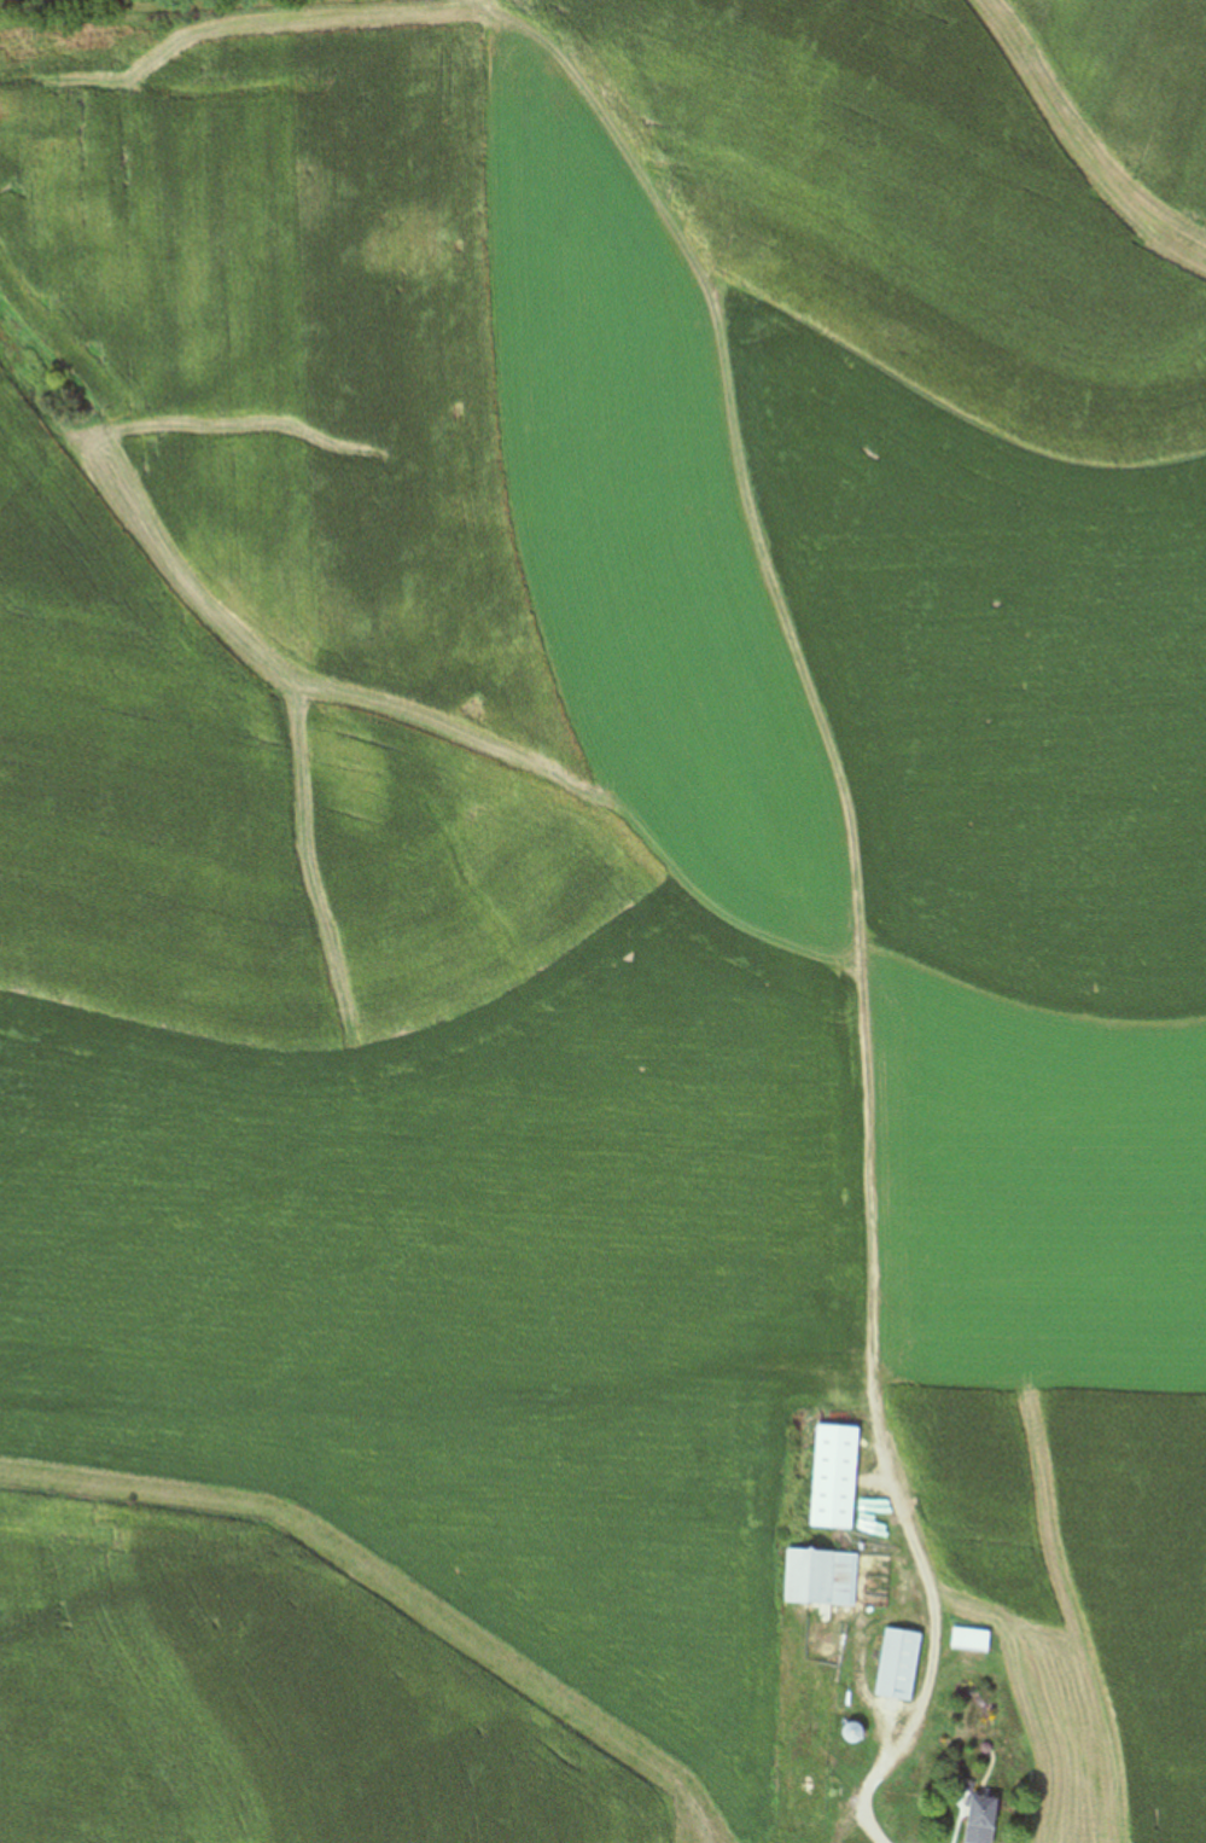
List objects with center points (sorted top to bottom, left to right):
building: (833, 1478)
building: (820, 1579)
building: (969, 1640)
building: (897, 1665)
road: (869, 1780)
building: (980, 1820)

